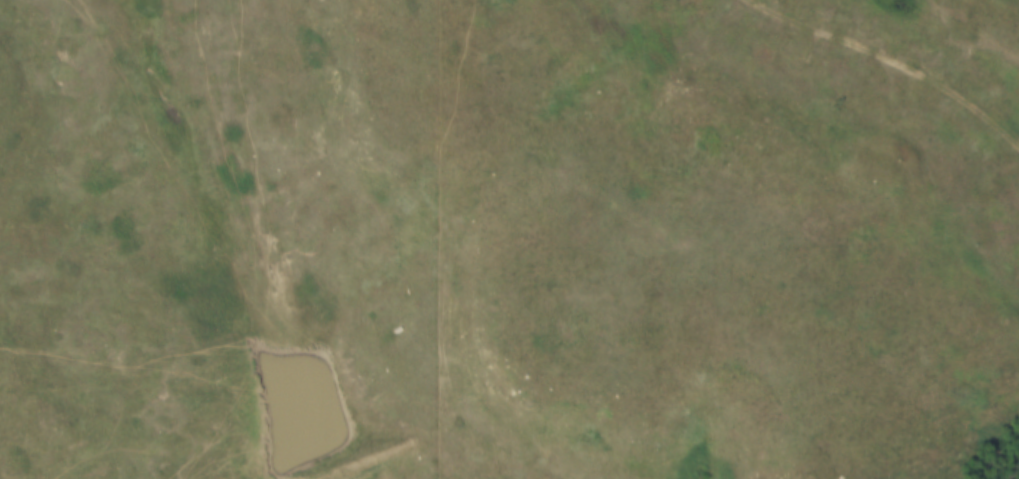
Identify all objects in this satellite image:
road: (890, 65)
road: (244, 474)

